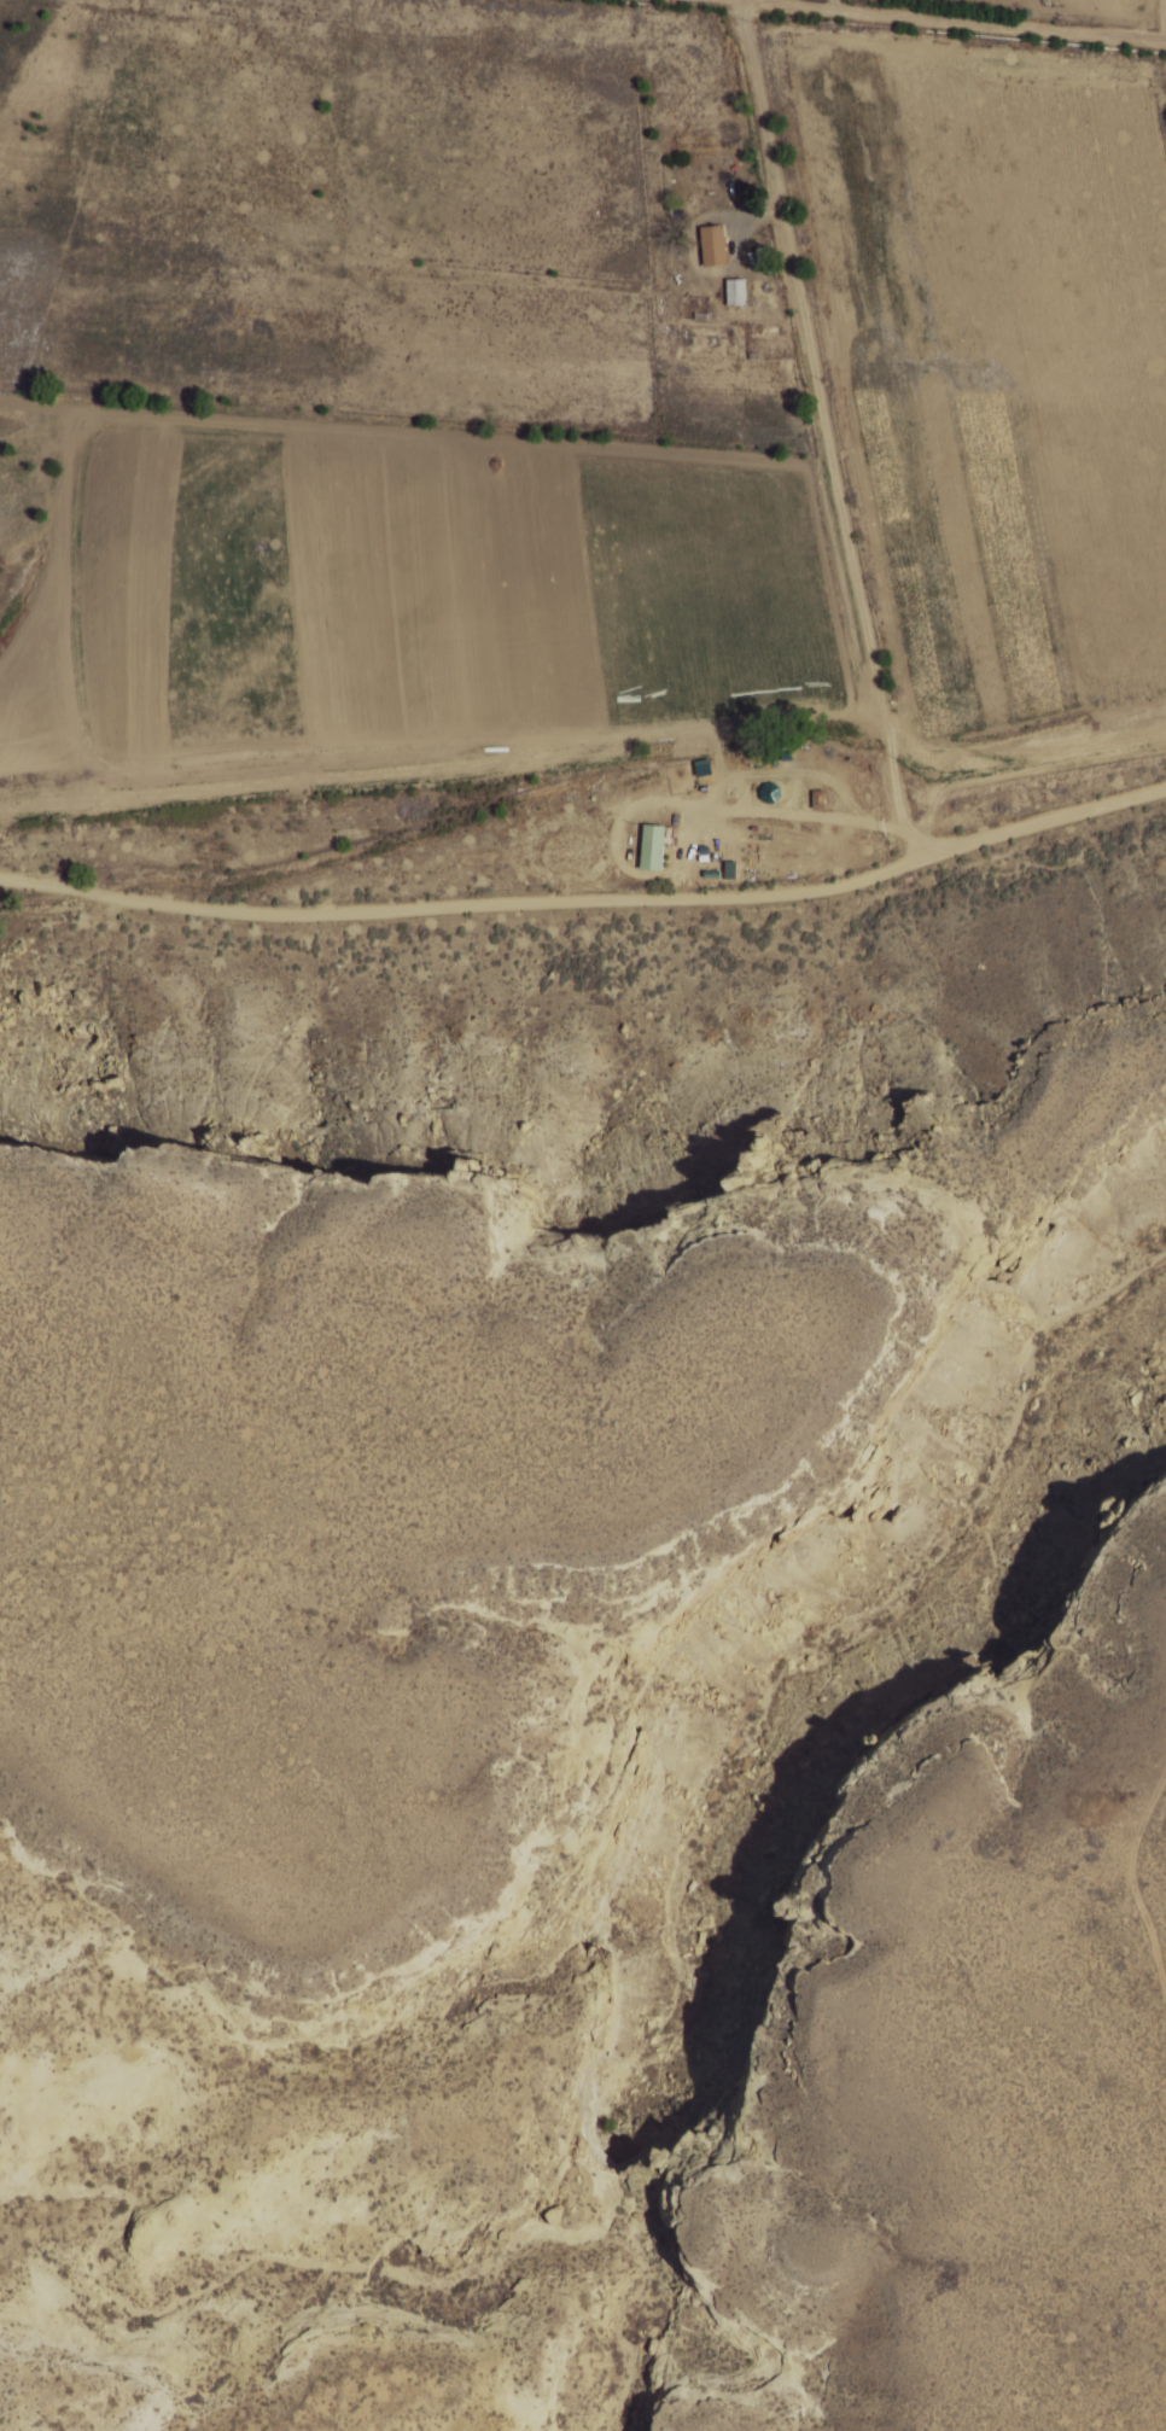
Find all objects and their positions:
road: (741, 0)
road: (948, 21)
building: (713, 245)
building: (735, 292)
road: (828, 429)
building: (770, 793)
building: (818, 799)
building: (653, 847)
road: (589, 900)
river: (745, 1794)

